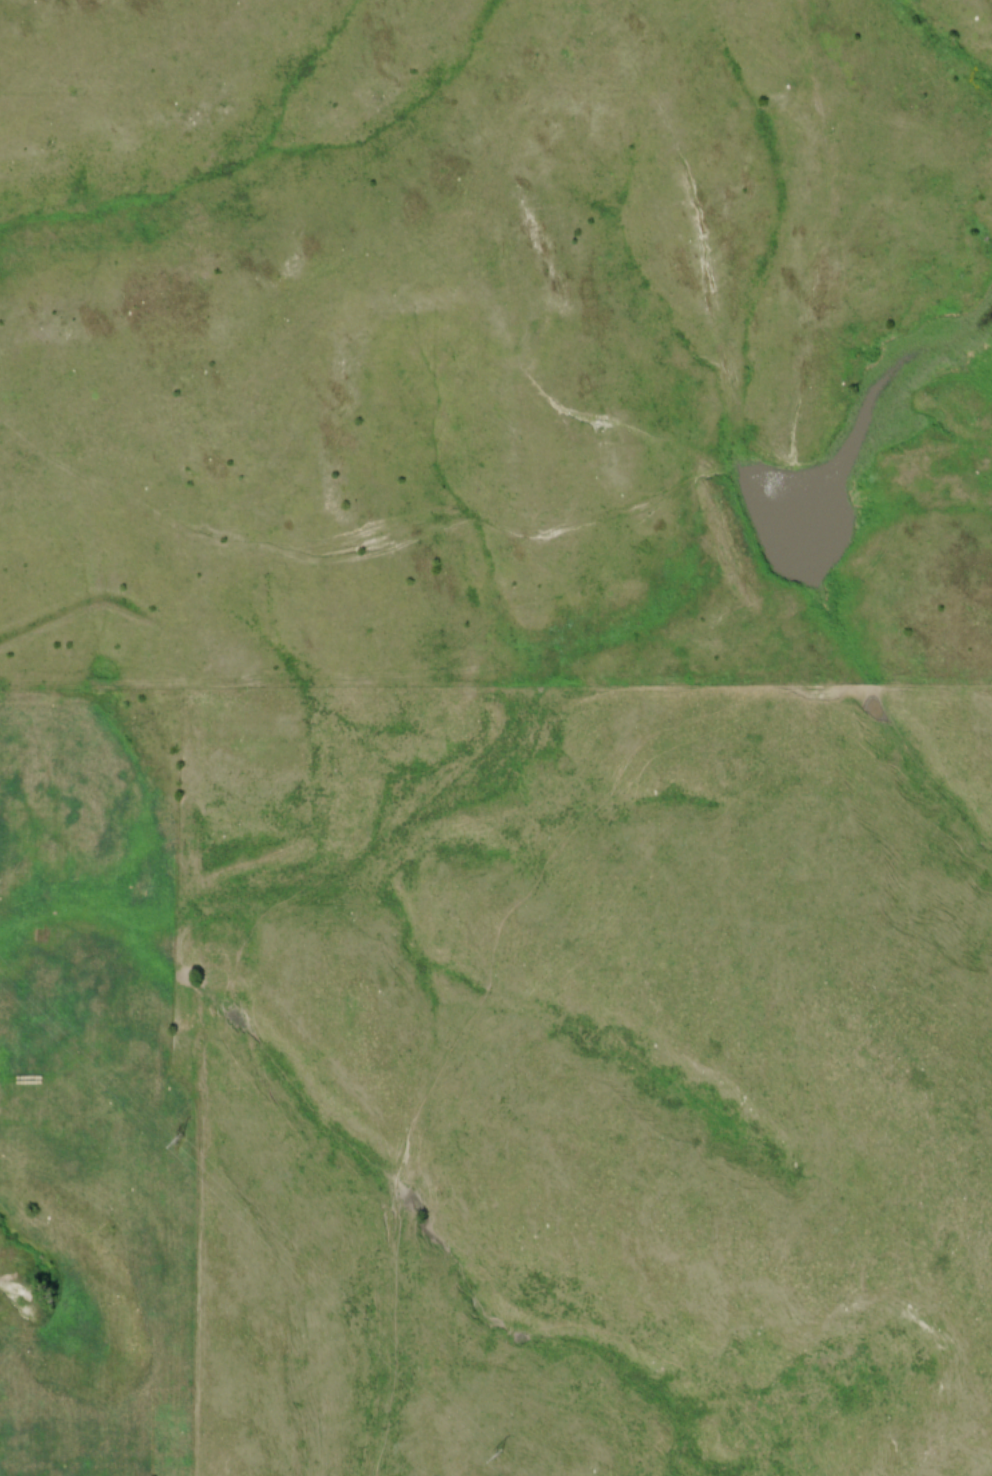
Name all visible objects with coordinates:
power tower: (179, 1143)
power tower: (500, 1459)

